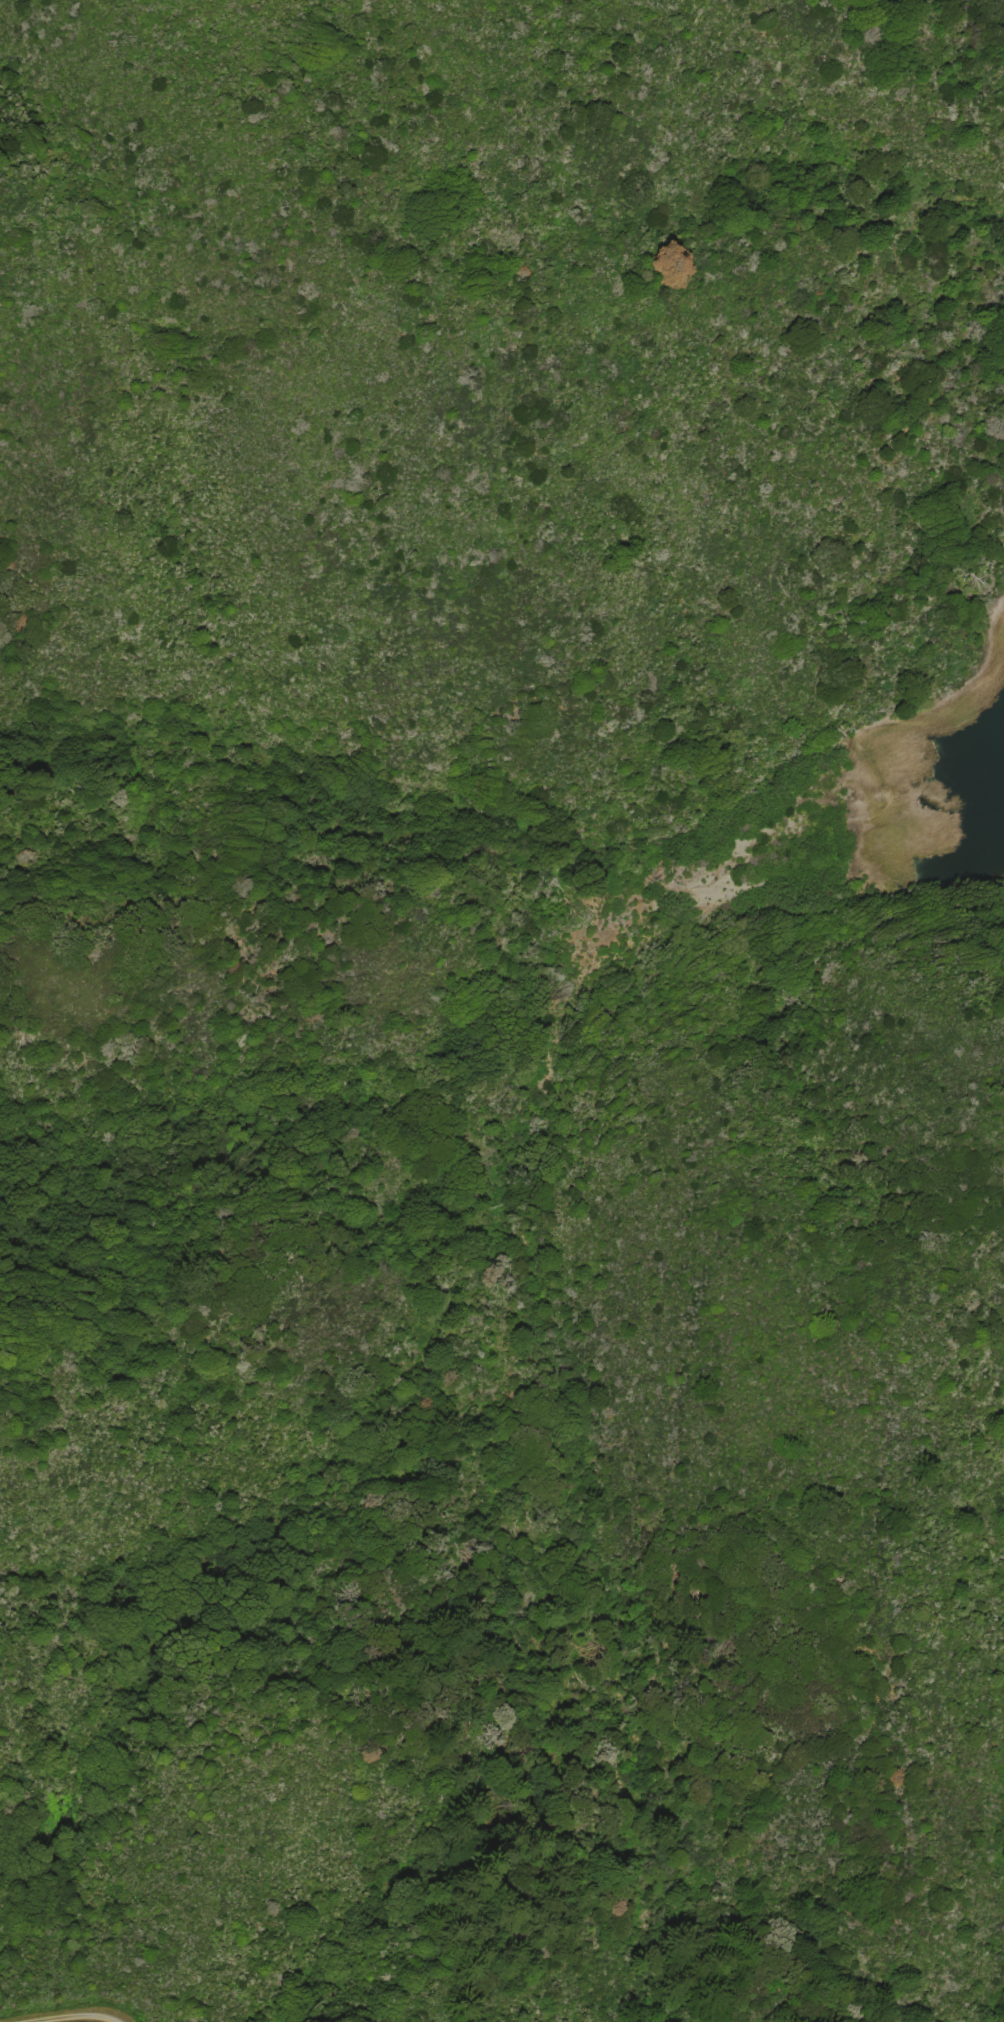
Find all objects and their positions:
road: (74, 2015)

